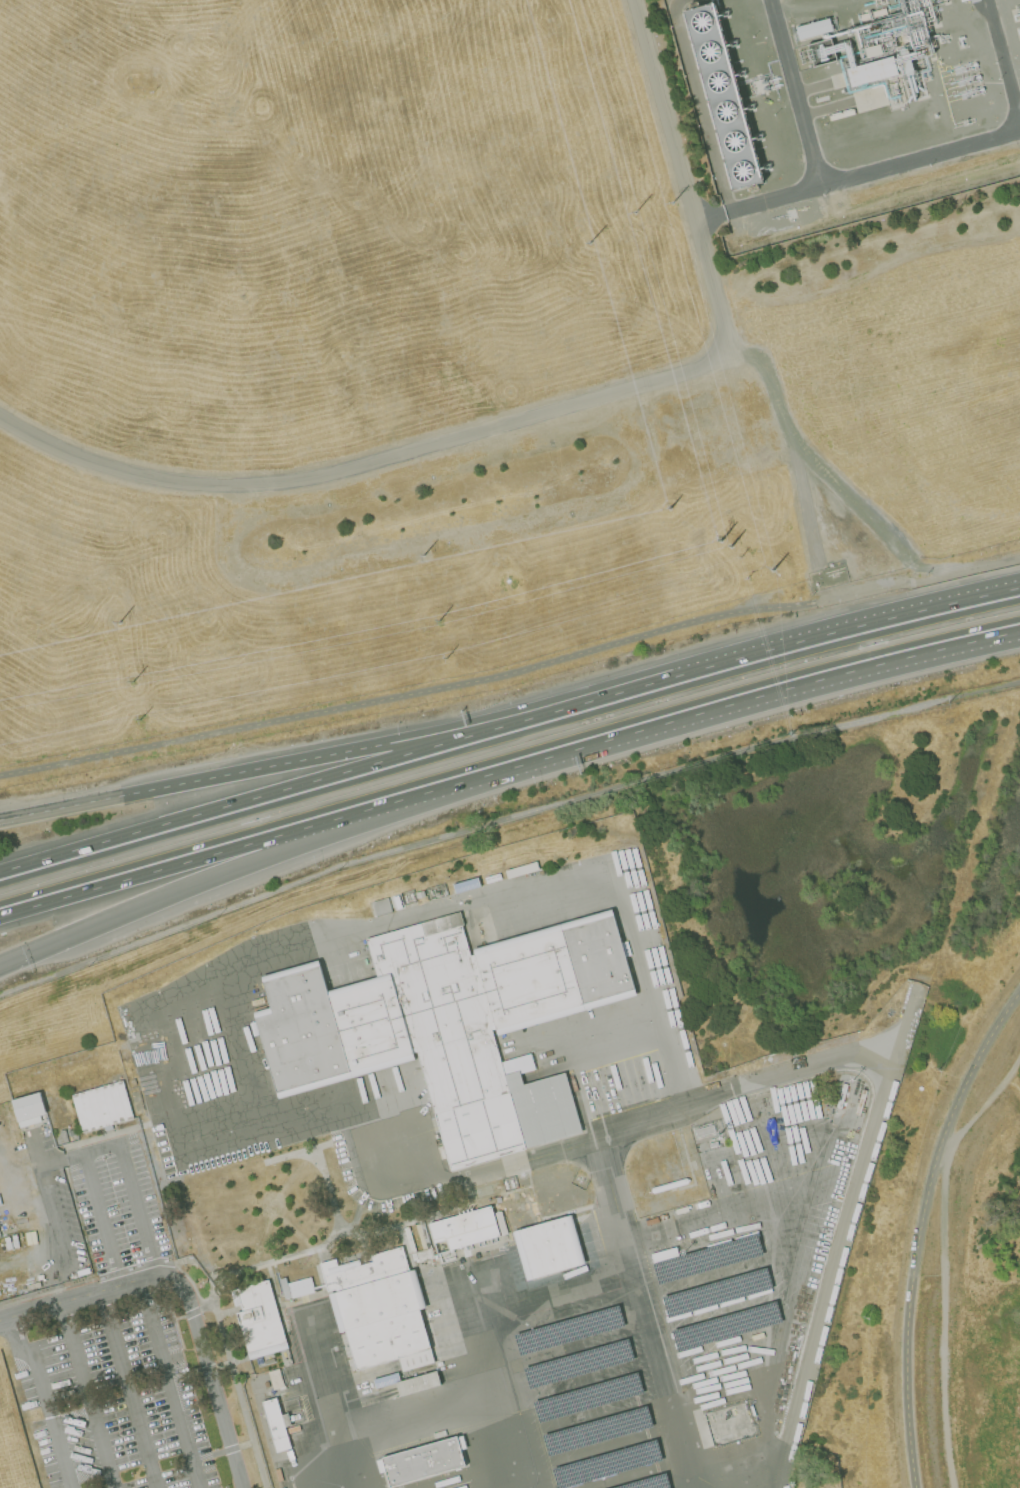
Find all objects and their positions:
building: (813, 28)
building: (872, 51)
road: (1001, 64)
road: (796, 91)
building: (721, 101)
power plant: (848, 107)
road: (921, 155)
road: (775, 198)
power tower: (673, 204)
road: (711, 219)
crop: (897, 401)
road: (545, 414)
power tower: (669, 507)
power tower: (729, 546)
power tower: (422, 555)
power tower: (772, 572)
power tower: (442, 619)
power tower: (121, 622)
road: (843, 636)
power tower: (445, 659)
road: (510, 669)
road: (833, 674)
power tower: (129, 680)
power tower: (139, 720)
road: (334, 755)
road: (334, 779)
road: (459, 782)
road: (503, 821)
building: (522, 870)
road: (134, 875)
building: (466, 885)
building: (420, 894)
road: (144, 900)
building: (381, 906)
road: (9, 963)
building: (449, 1023)
building: (102, 1107)
building: (29, 1109)
road: (645, 1121)
building: (63, 1136)
road: (526, 1160)
road: (125, 1172)
road: (48, 1199)
building: (652, 1221)
road: (101, 1222)
building: (501, 1222)
road: (919, 1227)
building: (464, 1230)
building: (548, 1247)
building: (423, 1255)
road: (941, 1256)
building: (706, 1259)
building: (33, 1286)
building: (285, 1288)
building: (715, 1292)
road: (86, 1297)
building: (379, 1310)
road: (8, 1316)
building: (259, 1320)
building: (726, 1325)
building: (568, 1329)
building: (757, 1336)
building: (578, 1362)
road: (208, 1373)
building: (275, 1379)
building: (408, 1382)
road: (172, 1385)
road: (129, 1391)
road: (89, 1395)
building: (587, 1397)
road: (43, 1401)
building: (277, 1424)
building: (293, 1429)
building: (597, 1429)
building: (423, 1461)
building: (605, 1463)
building: (278, 1474)
road: (308, 1478)
building: (648, 1482)

